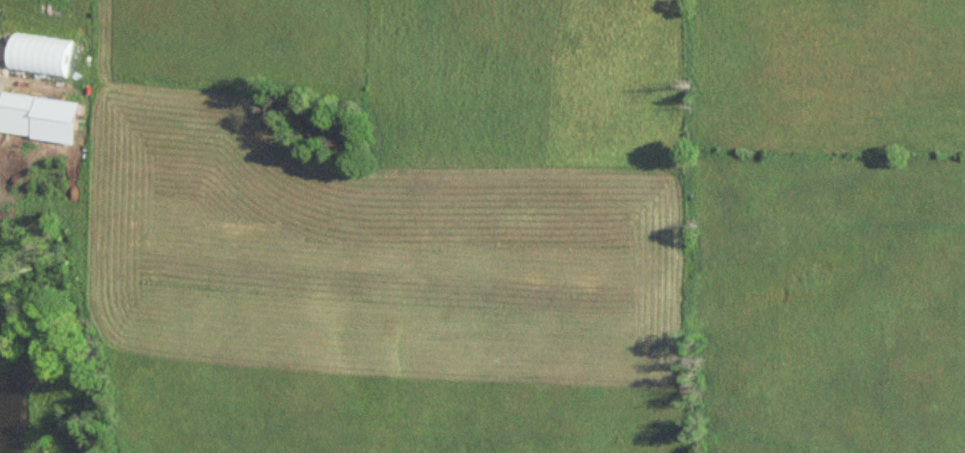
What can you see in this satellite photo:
building: (16, 101)

